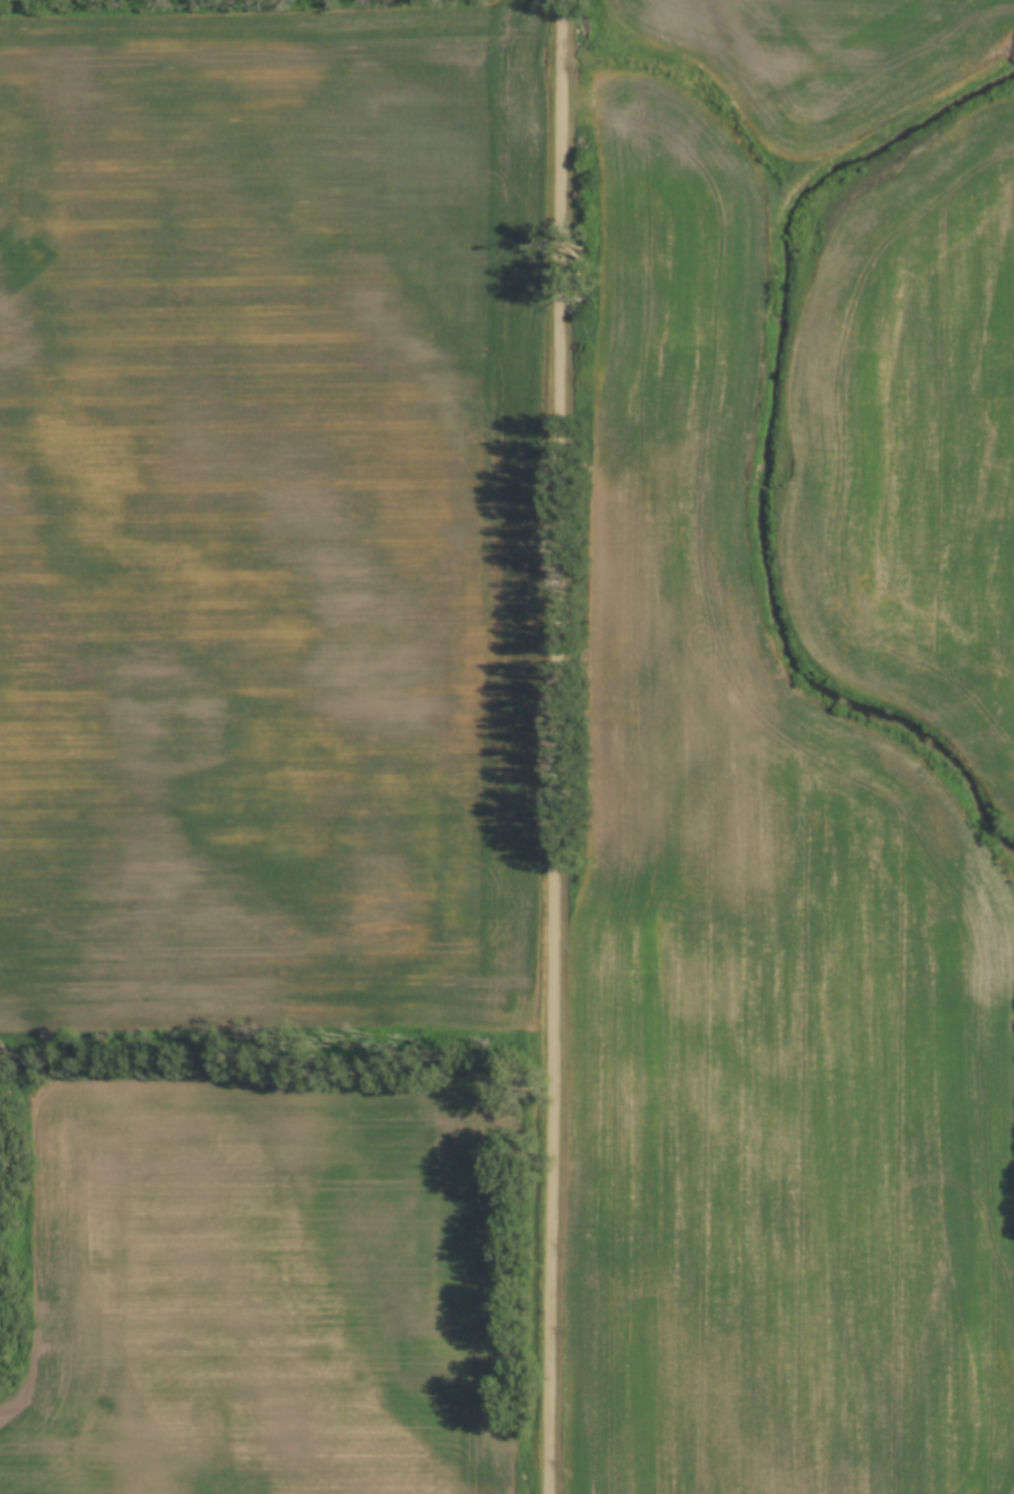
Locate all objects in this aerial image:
road: (556, 746)

